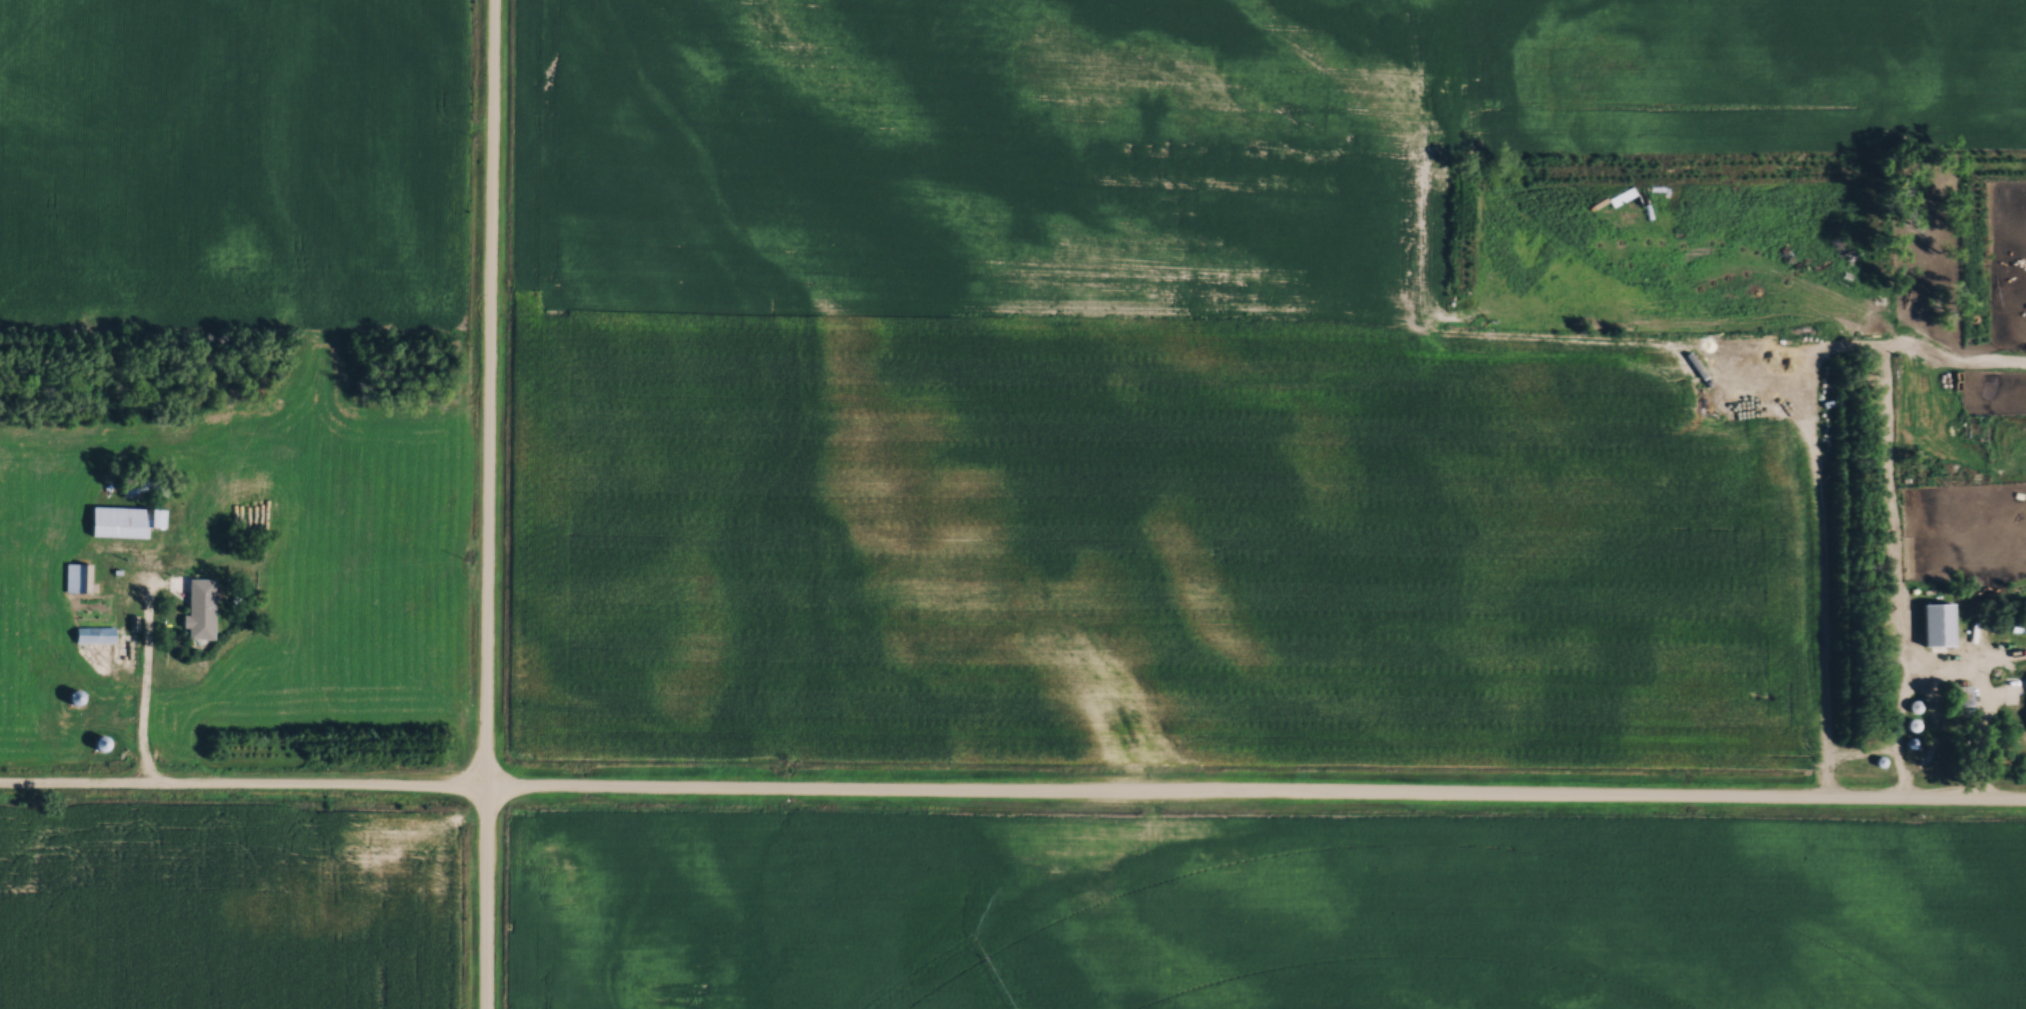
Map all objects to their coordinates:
building: (1730, 189)
building: (155, 441)
building: (62, 442)
building: (213, 495)
road: (488, 504)
building: (124, 520)
road: (1891, 572)
building: (77, 577)
building: (32, 583)
building: (197, 608)
building: (1936, 623)
building: (2018, 624)
building: (93, 634)
road: (1963, 668)
road: (146, 673)
building: (71, 697)
road: (1987, 734)
road: (1012, 793)

